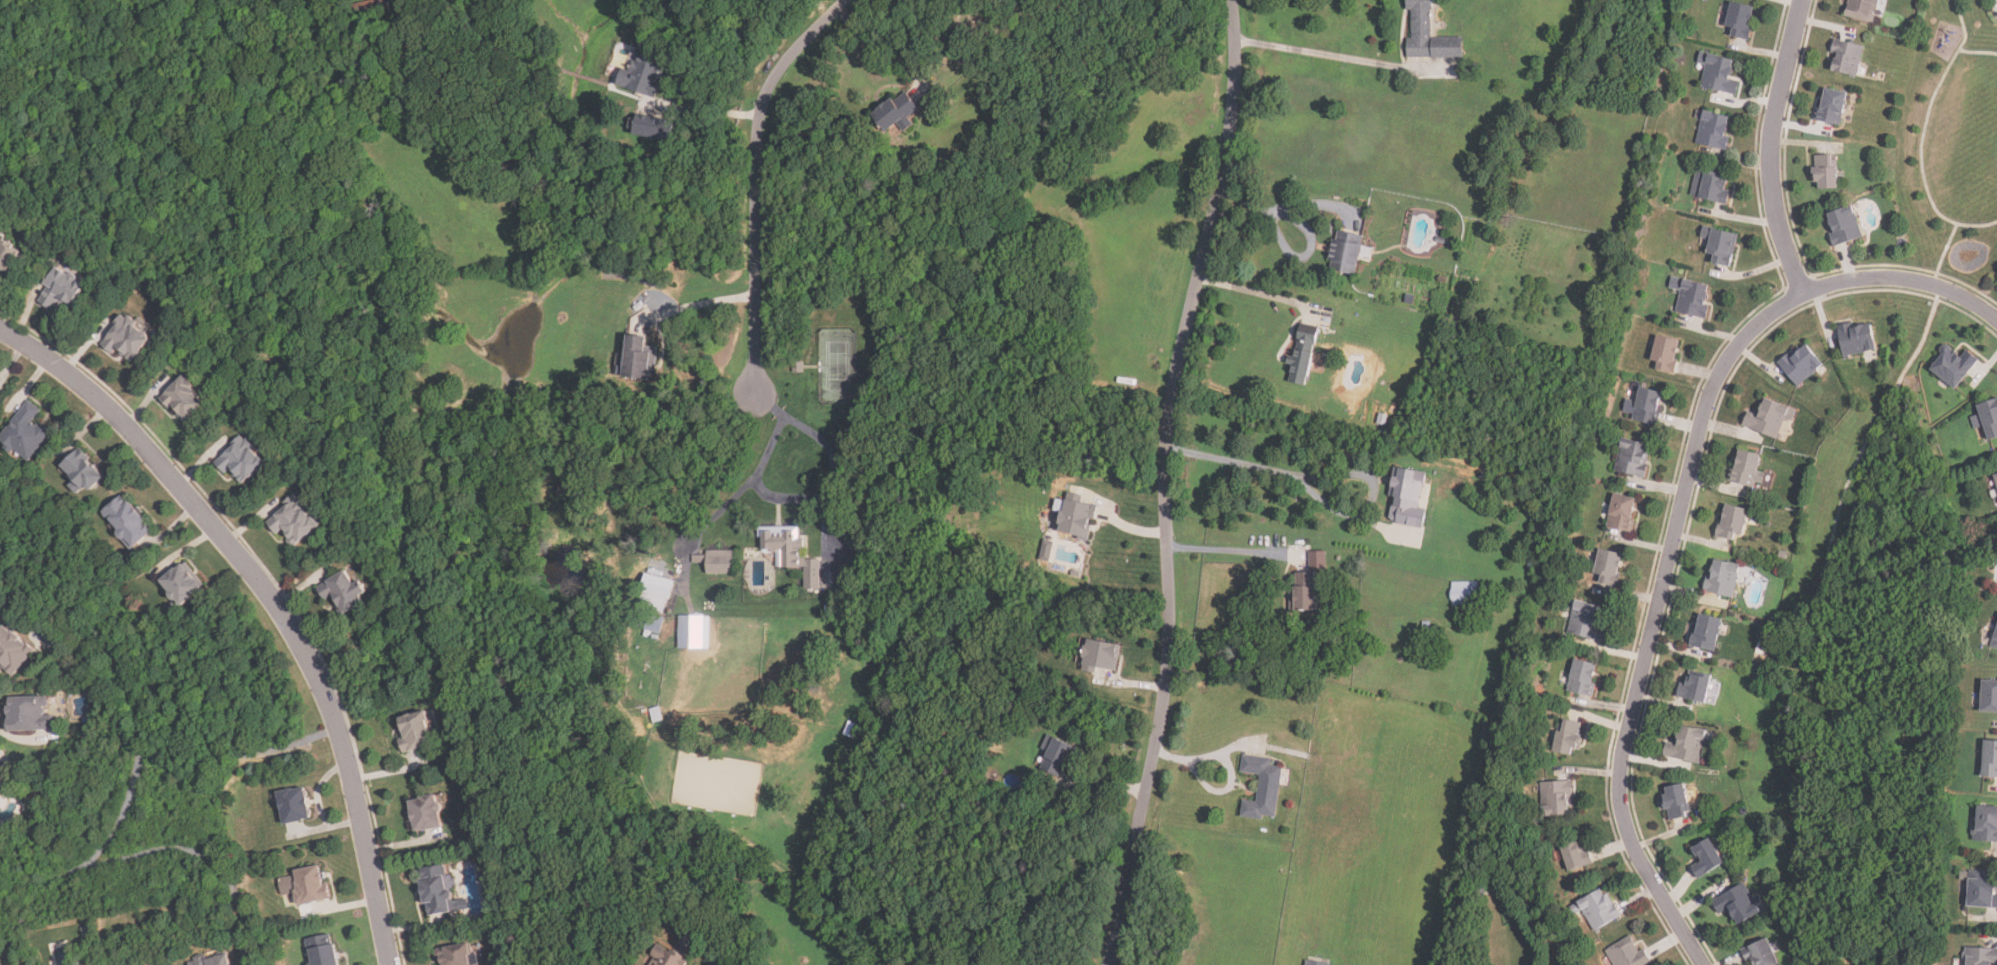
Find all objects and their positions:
building: (1860, 9)
building: (371, 12)
building: (1740, 20)
building: (1426, 33)
road: (881, 42)
road: (1337, 57)
building: (1846, 57)
building: (1718, 73)
building: (642, 75)
building: (1832, 105)
road: (710, 106)
building: (895, 111)
building: (655, 129)
building: (1713, 129)
road: (1774, 146)
building: (1825, 171)
road: (763, 180)
building: (1714, 187)
road: (1283, 208)
building: (1843, 225)
building: (1441, 240)
building: (1720, 246)
road: (1309, 251)
building: (1345, 252)
building: (7, 256)
building: (61, 290)
road: (1258, 292)
building: (1694, 298)
building: (1410, 299)
road: (707, 302)
building: (126, 337)
building: (1856, 338)
building: (1665, 353)
building: (1302, 355)
building: (639, 358)
building: (1800, 364)
building: (1952, 365)
building: (798, 368)
building: (183, 399)
building: (1647, 406)
building: (1987, 417)
building: (1770, 418)
building: (25, 432)
building: (1632, 457)
building: (239, 461)
building: (1747, 468)
road: (1335, 470)
building: (80, 472)
building: (1995, 476)
road: (1164, 481)
road: (826, 497)
building: (1408, 498)
river: (1890, 501)
road: (722, 509)
building: (1621, 512)
road: (1678, 517)
building: (1077, 519)
building: (292, 520)
building: (126, 522)
building: (1731, 522)
road: (1131, 528)
road: (1228, 546)
building: (790, 552)
building: (718, 560)
building: (1535, 562)
building: (1608, 567)
building: (1722, 578)
building: (179, 584)
building: (1304, 590)
building: (341, 591)
building: (656, 593)
building: (1465, 593)
road: (275, 598)
building: (1586, 621)
road: (83, 622)
building: (654, 624)
building: (1427, 628)
building: (694, 632)
building: (1705, 632)
building: (1995, 641)
building: (12, 651)
building: (1103, 656)
building: (1582, 677)
road: (1133, 684)
building: (1695, 687)
building: (1989, 695)
road: (163, 713)
building: (28, 714)
building: (656, 715)
building: (851, 729)
building: (414, 732)
building: (1567, 738)
building: (1686, 745)
road: (1203, 753)
building: (1990, 759)
building: (1049, 768)
building: (3, 781)
road: (1101, 782)
road: (1215, 787)
building: (1262, 788)
building: (1556, 798)
building: (1676, 802)
building: (292, 805)
building: (424, 813)
building: (1986, 824)
road: (161, 851)
building: (1575, 855)
building: (1705, 858)
building: (309, 884)
building: (1982, 889)
building: (434, 890)
building: (1737, 903)
building: (1598, 909)
building: (320, 950)
building: (1627, 952)
river: (1880, 953)
building: (1760, 954)
building: (456, 955)
building: (666, 956)
building: (1981, 956)
building: (212, 960)
building: (1315, 963)

